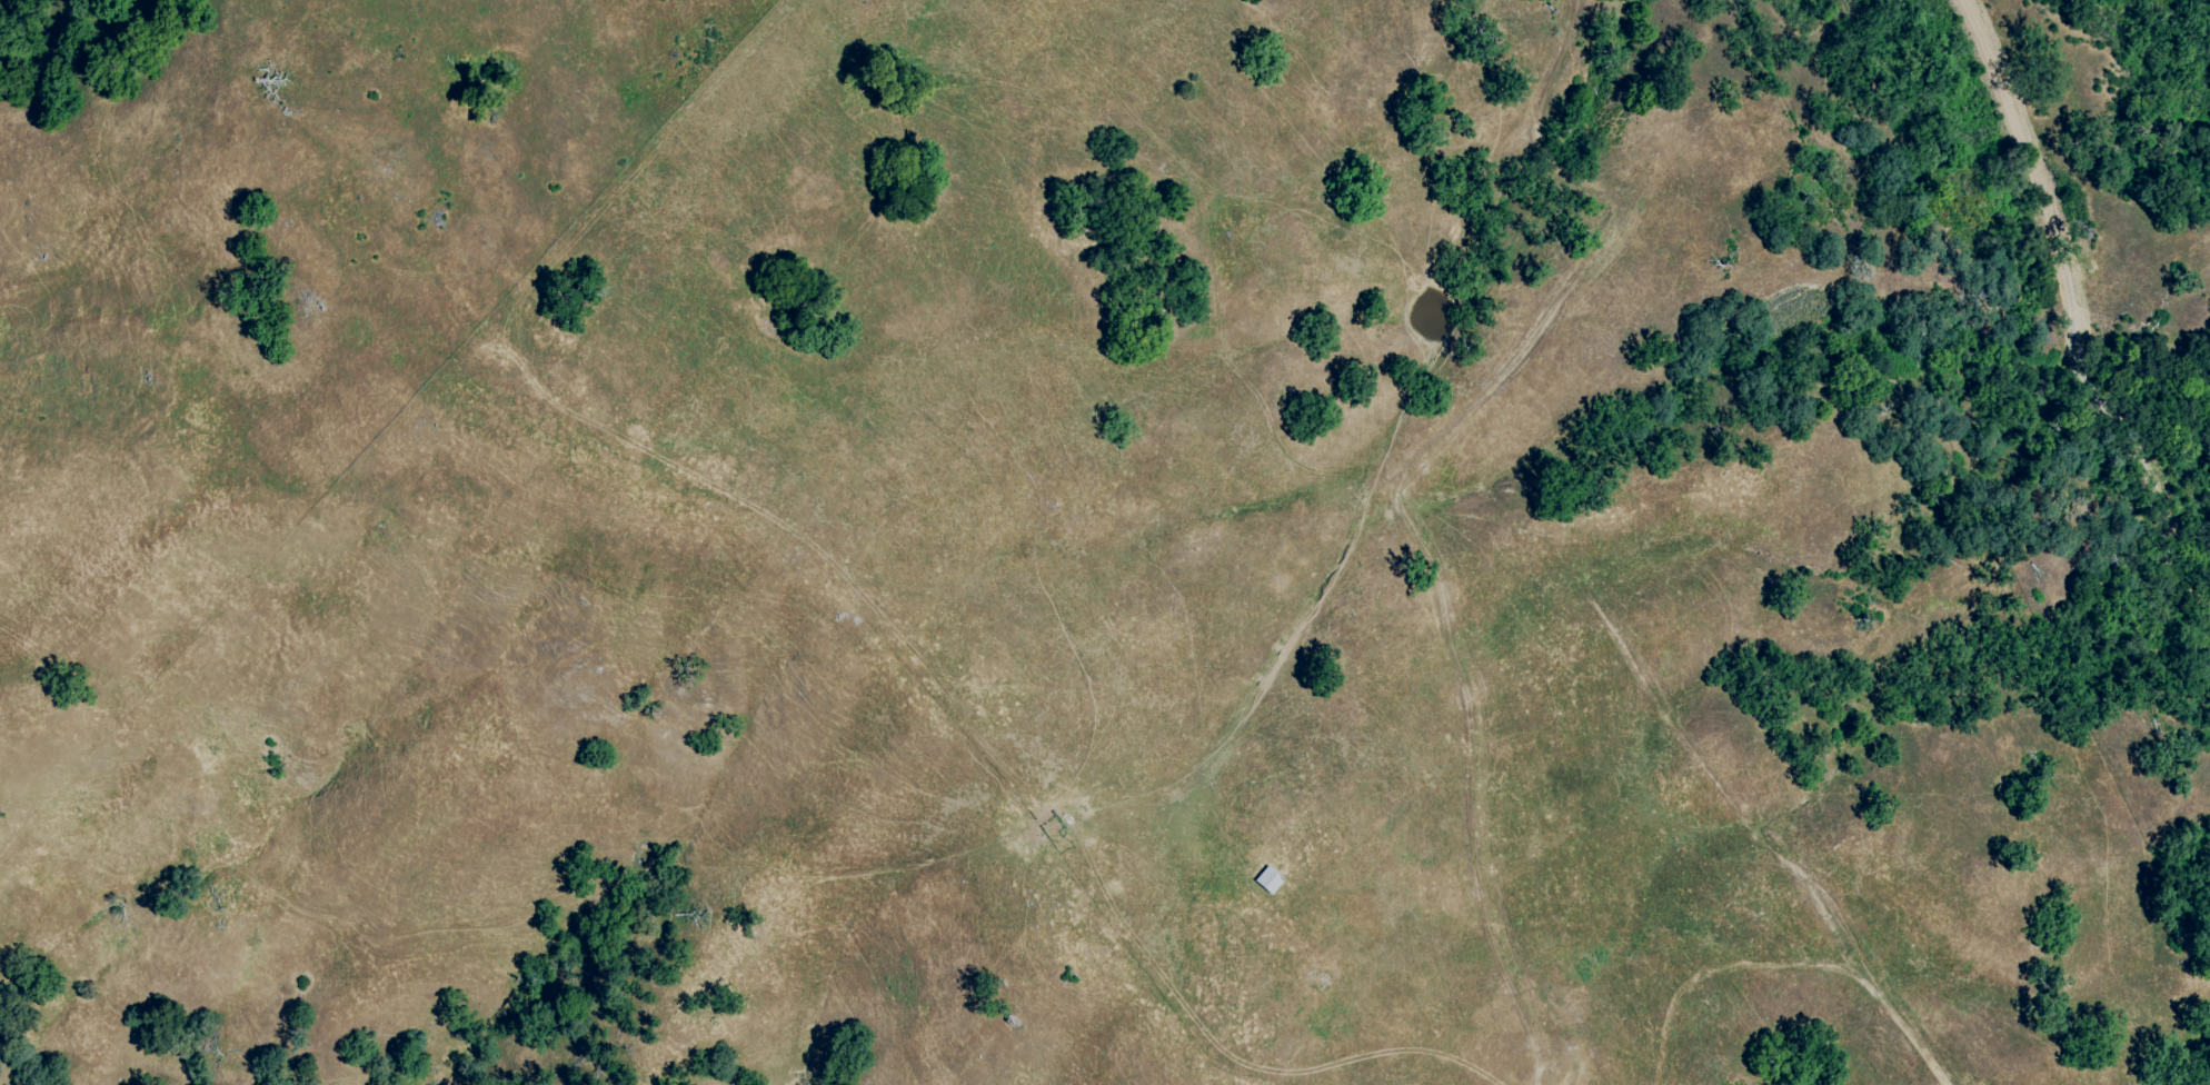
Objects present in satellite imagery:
road: (2069, 293)
building: (1272, 877)

